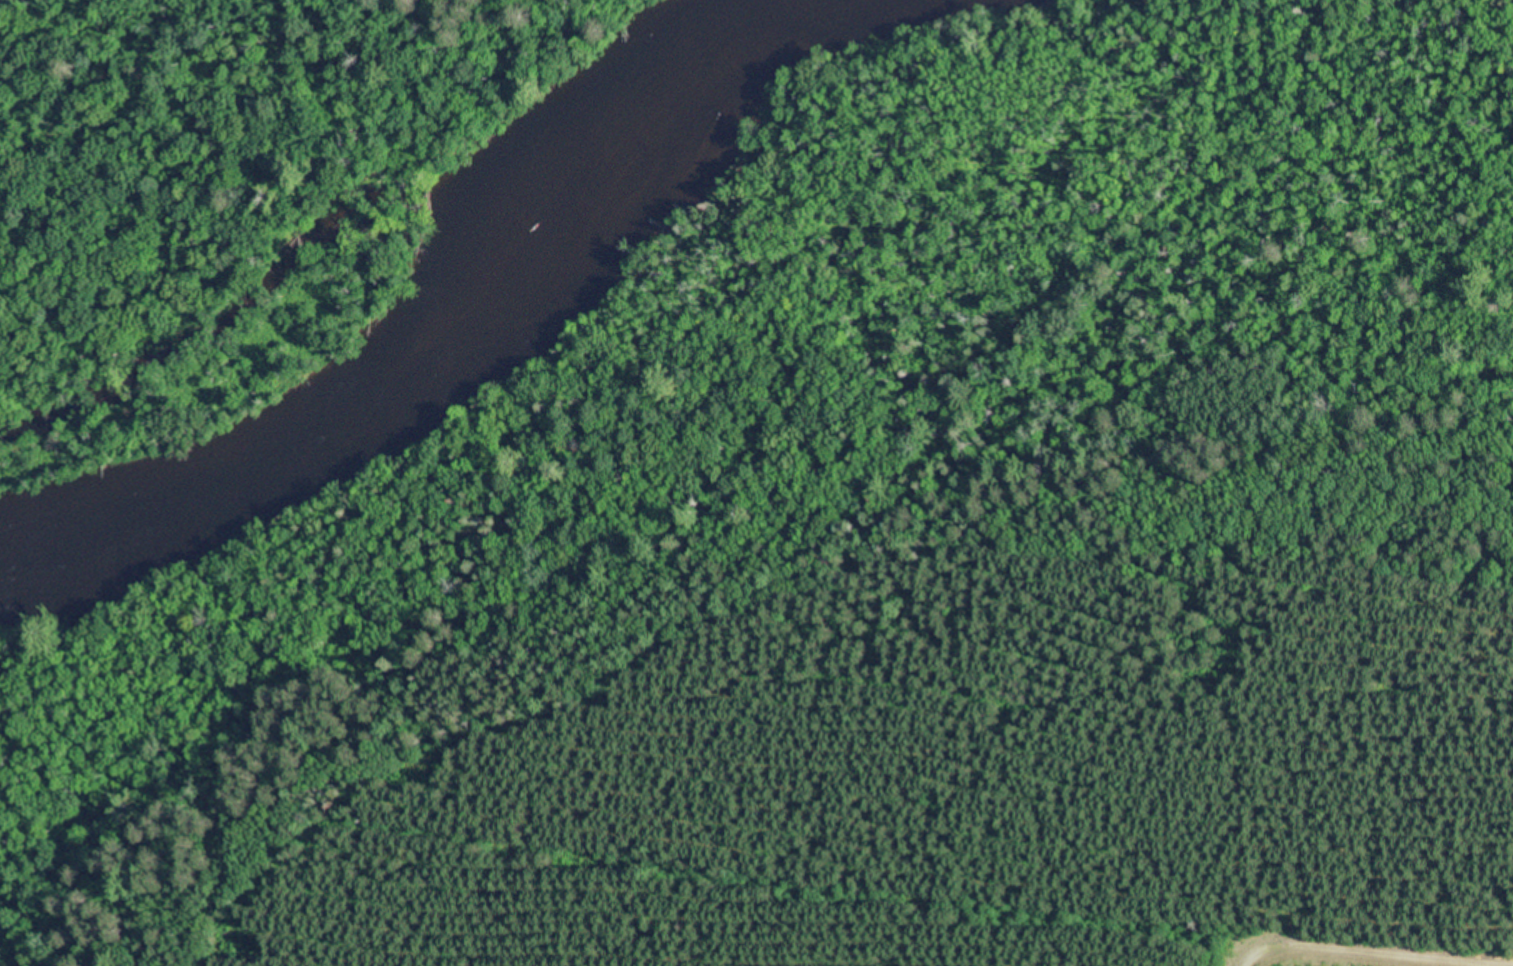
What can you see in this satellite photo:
river: (451, 315)
road: (1370, 955)

